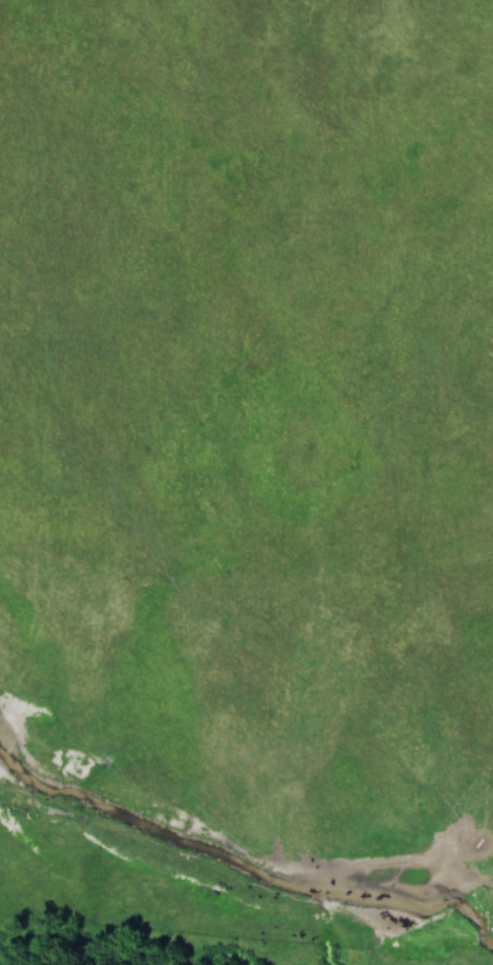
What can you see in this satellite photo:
river: (249, 866)

